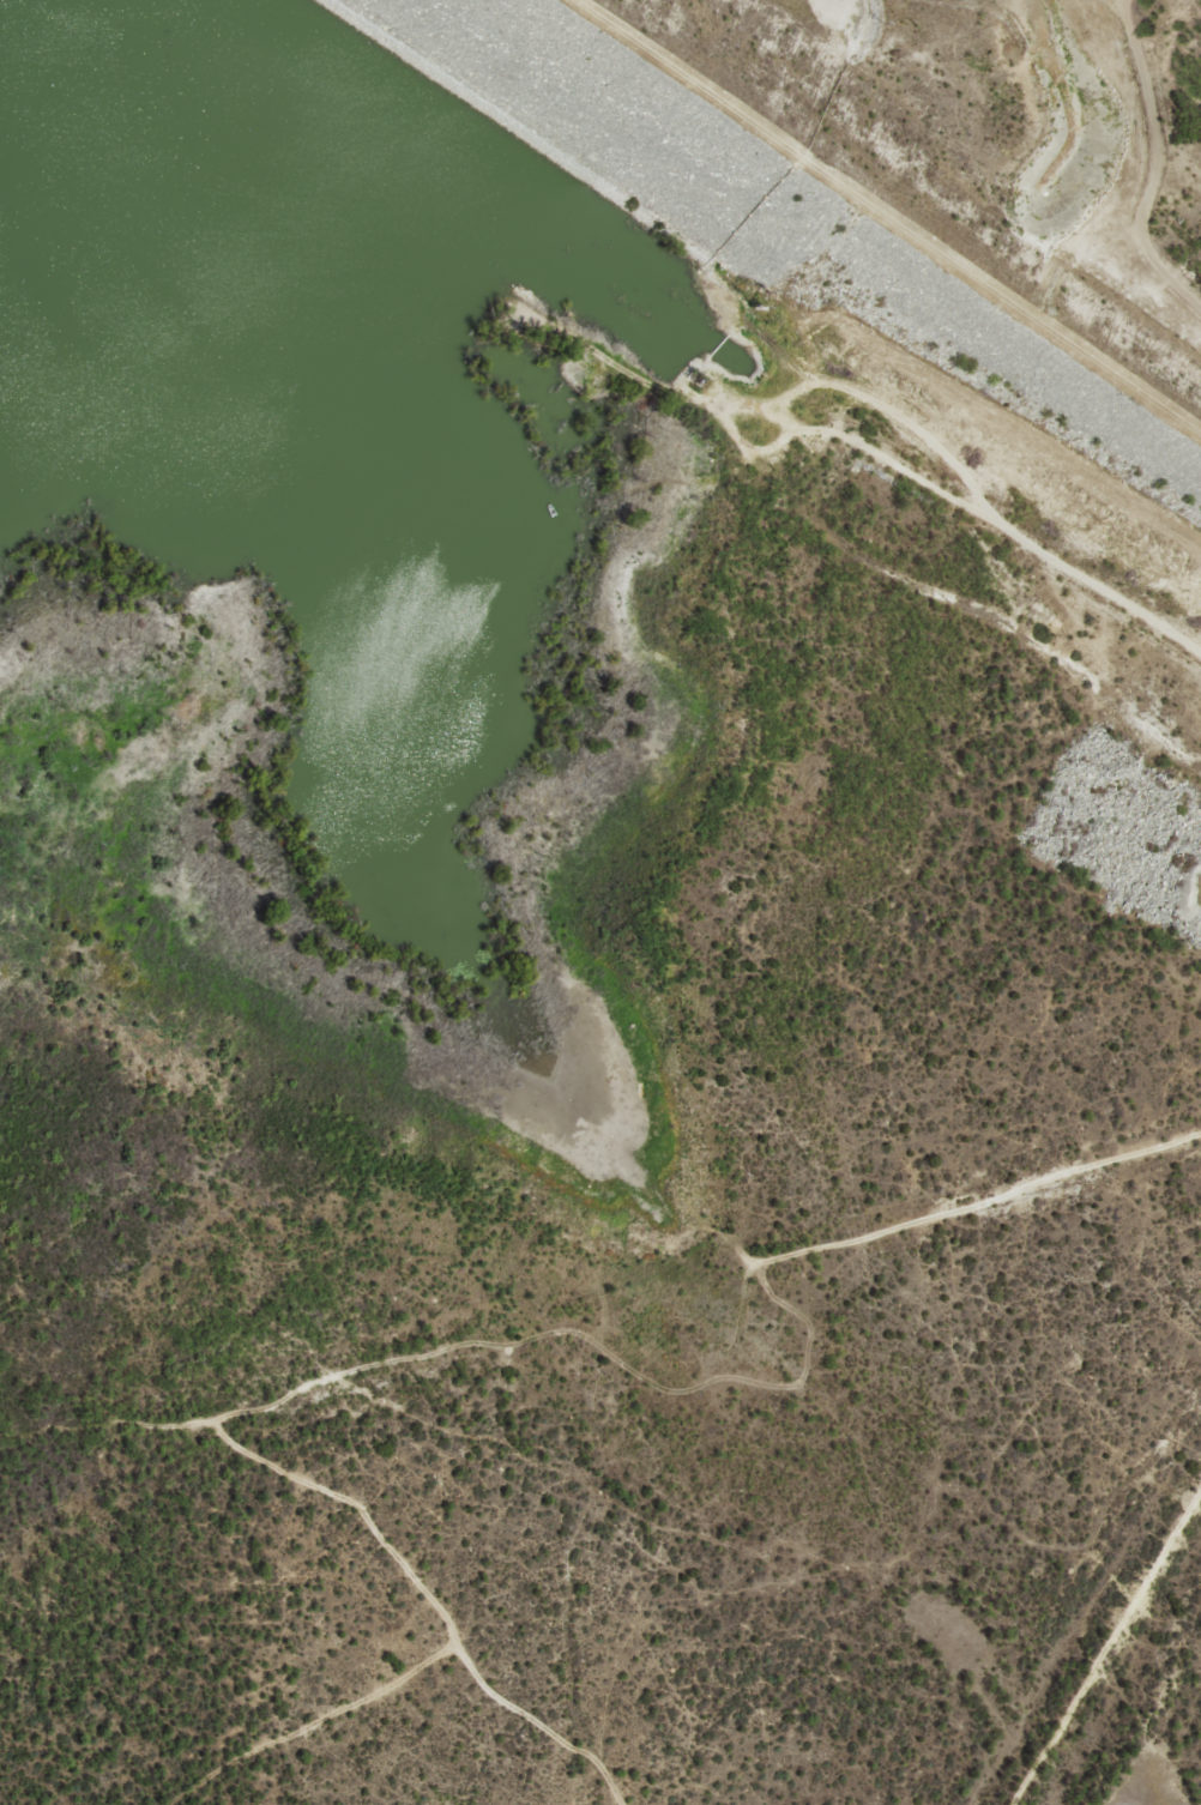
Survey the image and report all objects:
river: (338, 46)
river: (151, 128)
road: (1142, 162)
dam: (799, 206)
road: (874, 223)
road: (857, 445)
road: (638, 1378)
railway: (1104, 1642)
road: (1105, 1644)
road: (411, 1670)

